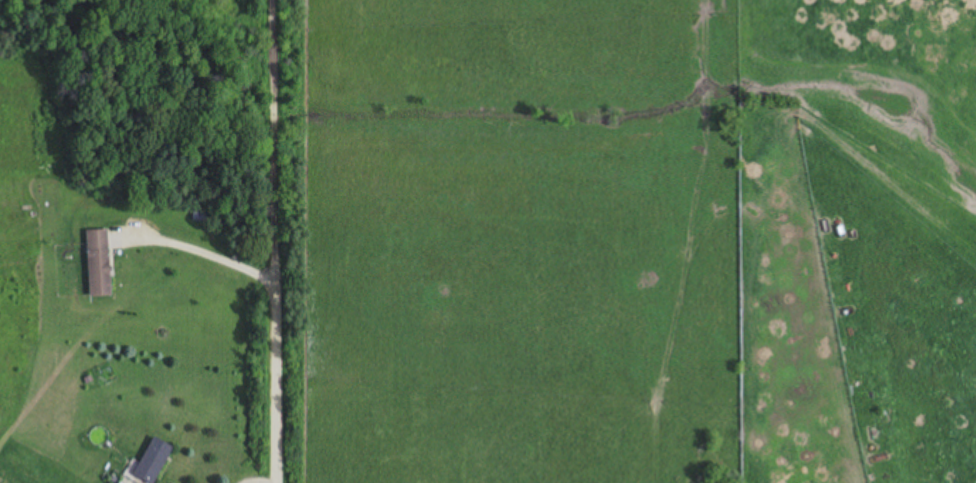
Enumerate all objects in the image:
road: (272, 241)
road: (200, 248)
building: (98, 262)
building: (153, 461)
road: (259, 481)

